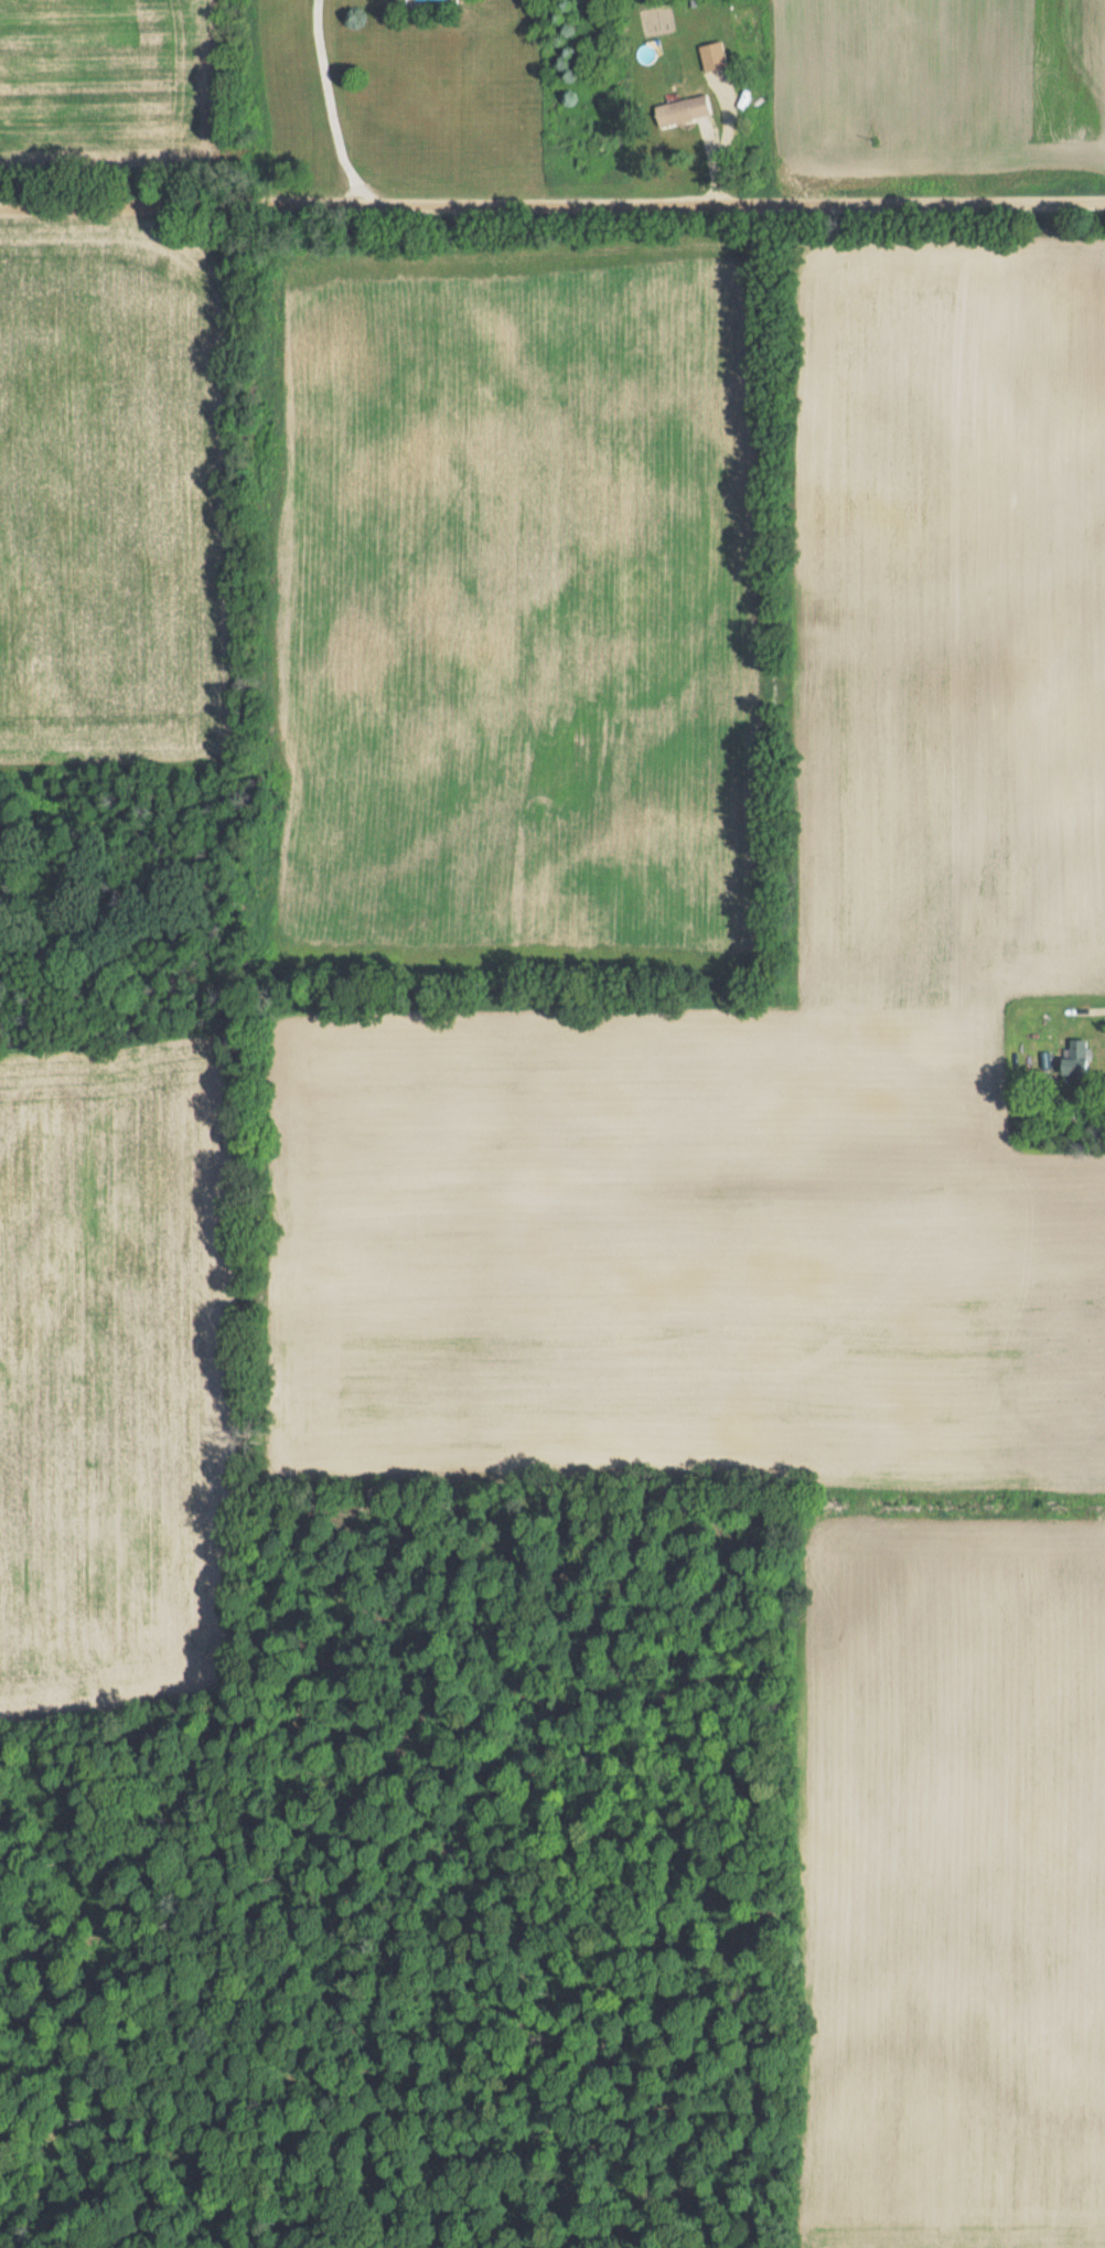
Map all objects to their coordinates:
road: (331, 106)
building: (680, 111)
road: (551, 204)
road: (1090, 1015)
building: (1074, 1057)

